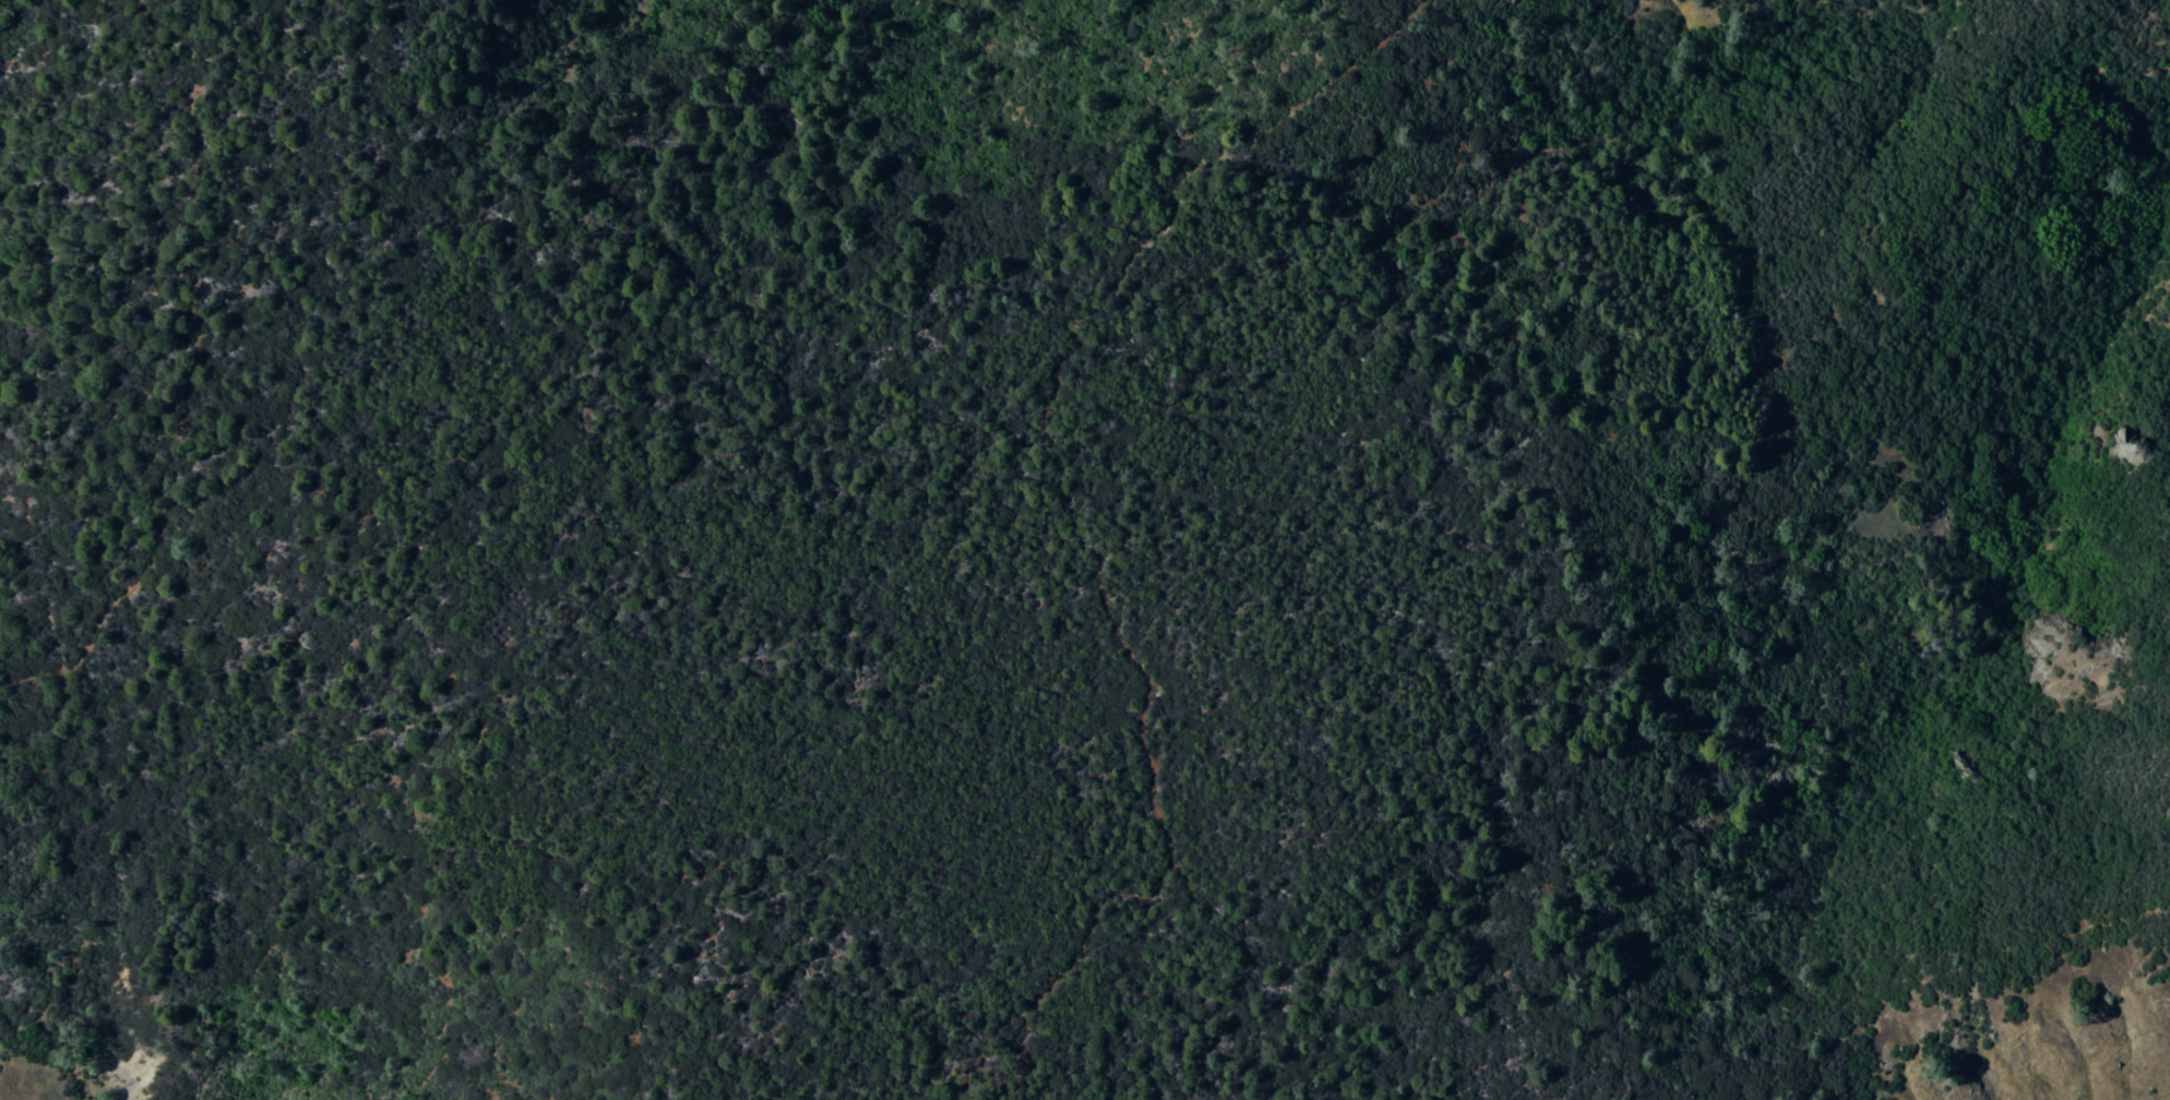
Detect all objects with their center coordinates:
road: (2041, 942)

